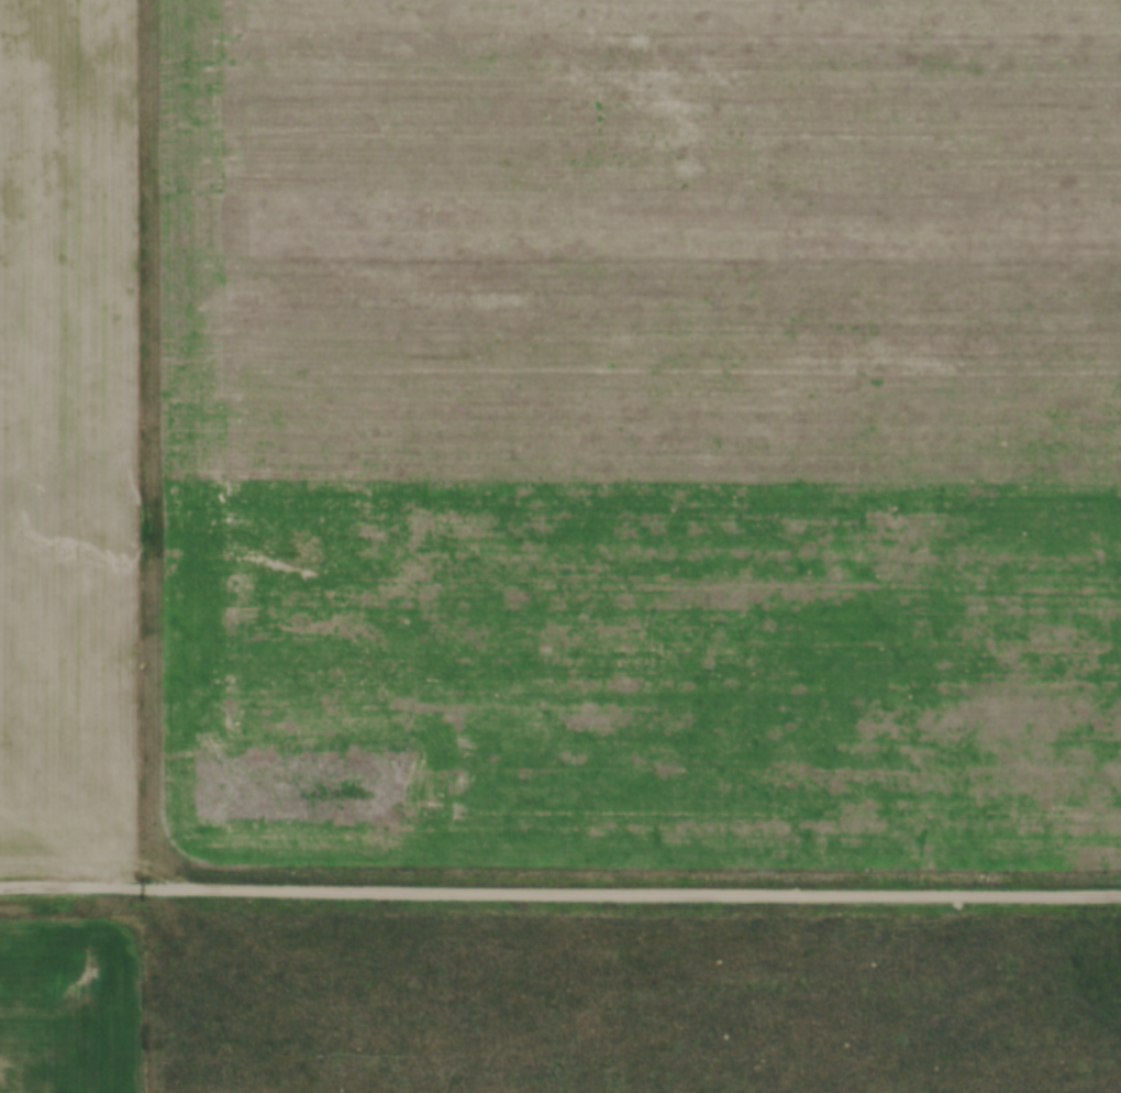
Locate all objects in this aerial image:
road: (559, 891)

